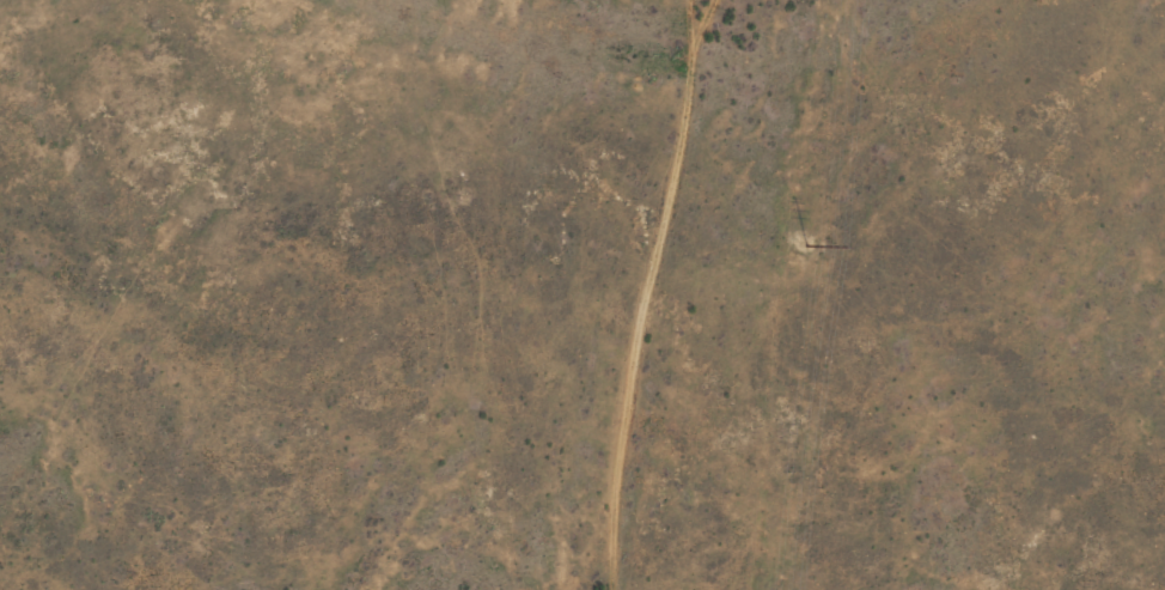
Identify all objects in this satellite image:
power tower: (803, 243)
road: (635, 292)

